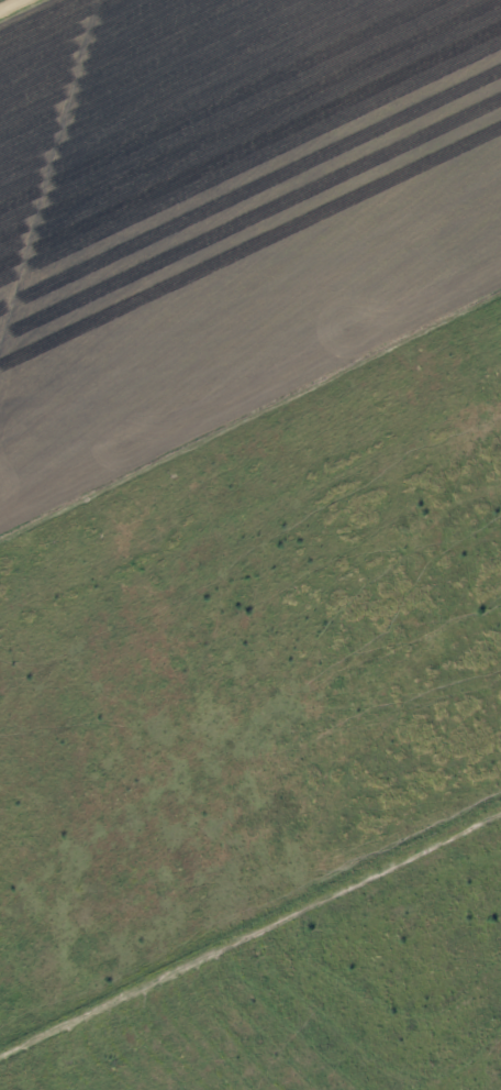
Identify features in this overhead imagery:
road: (1, 0)

